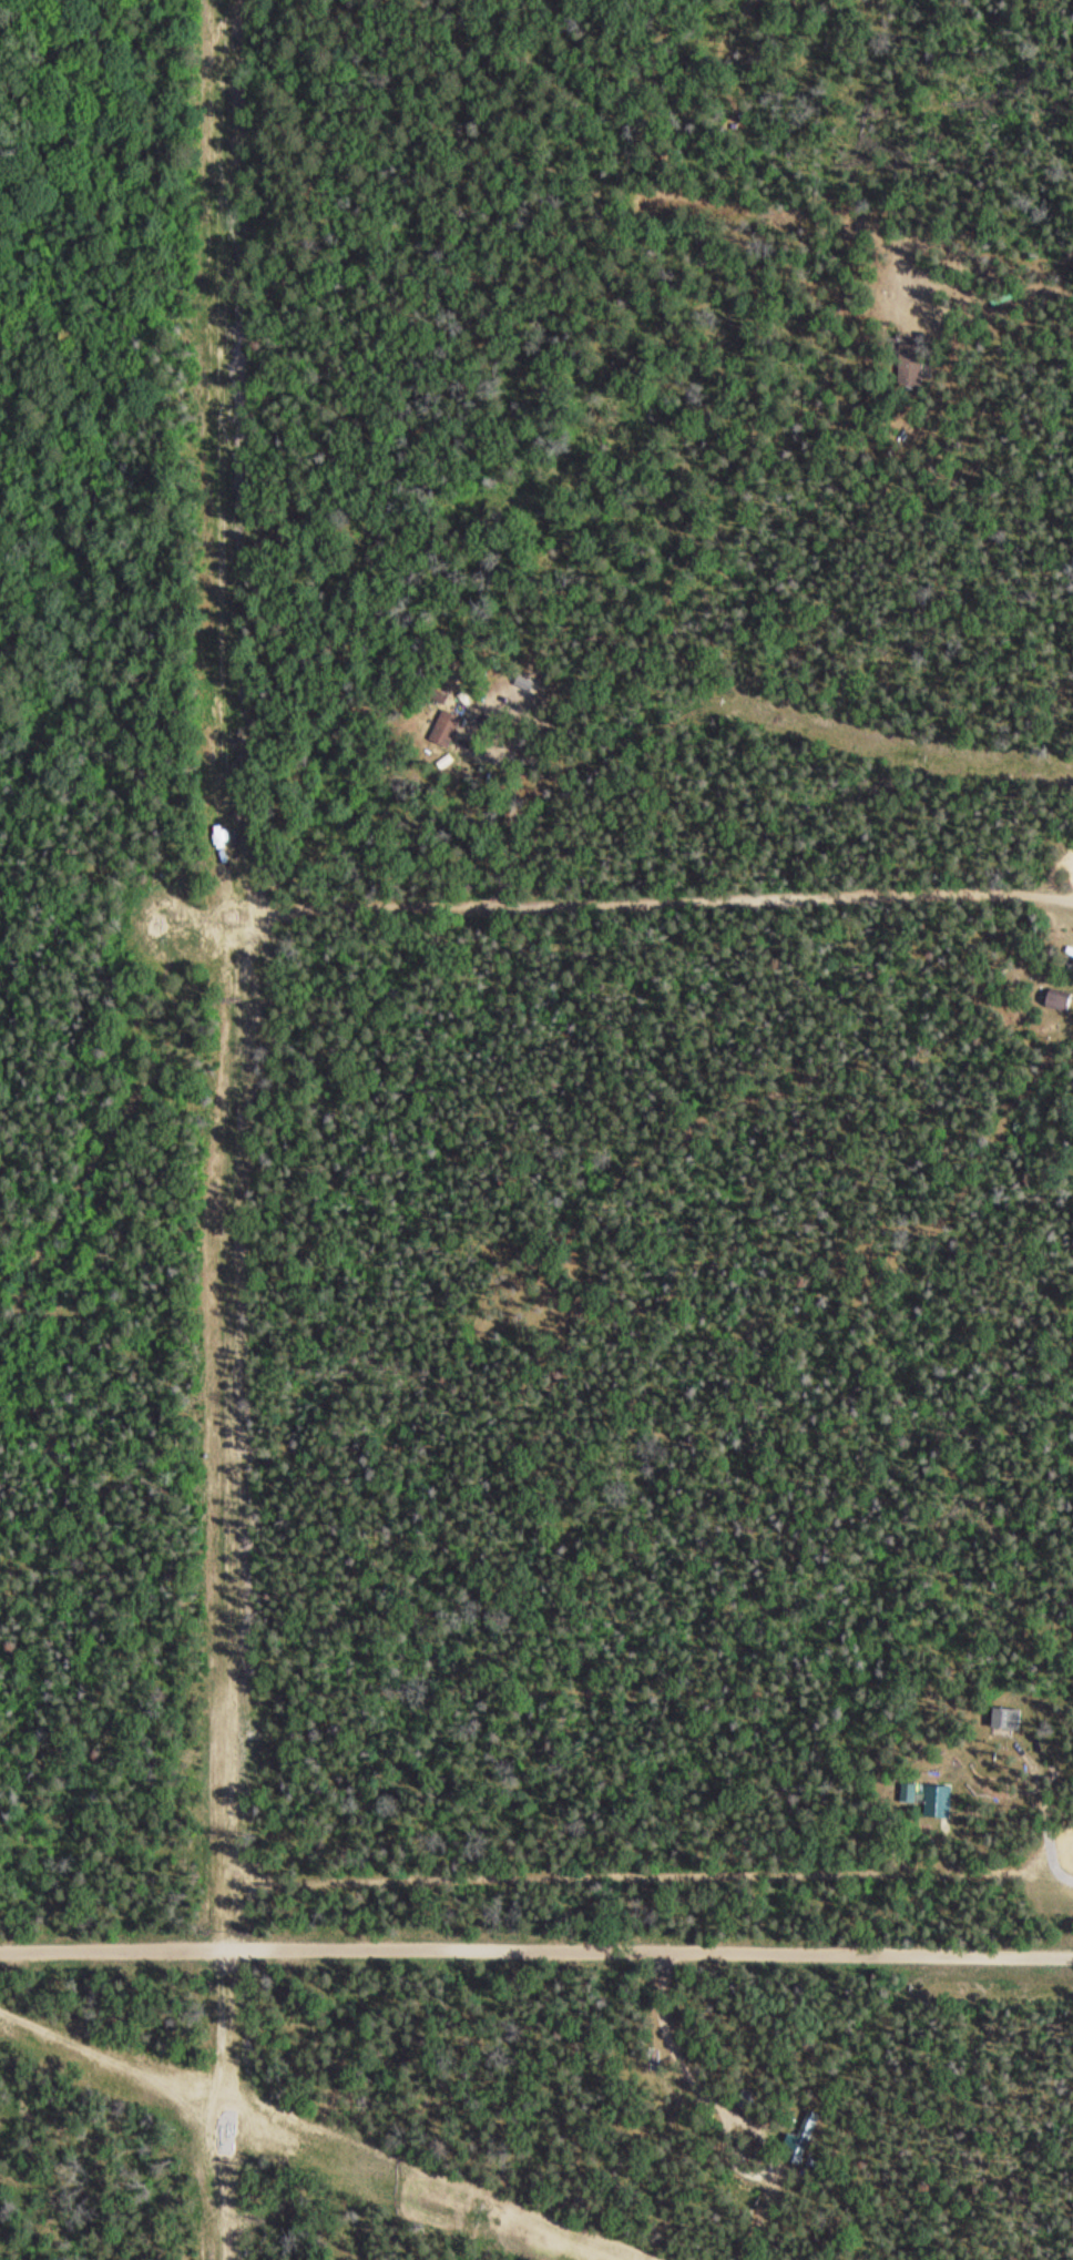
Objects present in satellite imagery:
building: (909, 366)
road: (182, 462)
road: (666, 898)
building: (1054, 1000)
road: (116, 1117)
road: (237, 1429)
building: (1003, 1719)
building: (936, 1801)
road: (645, 1874)
road: (535, 1952)
road: (112, 2062)
road: (216, 2105)
building: (801, 2136)

